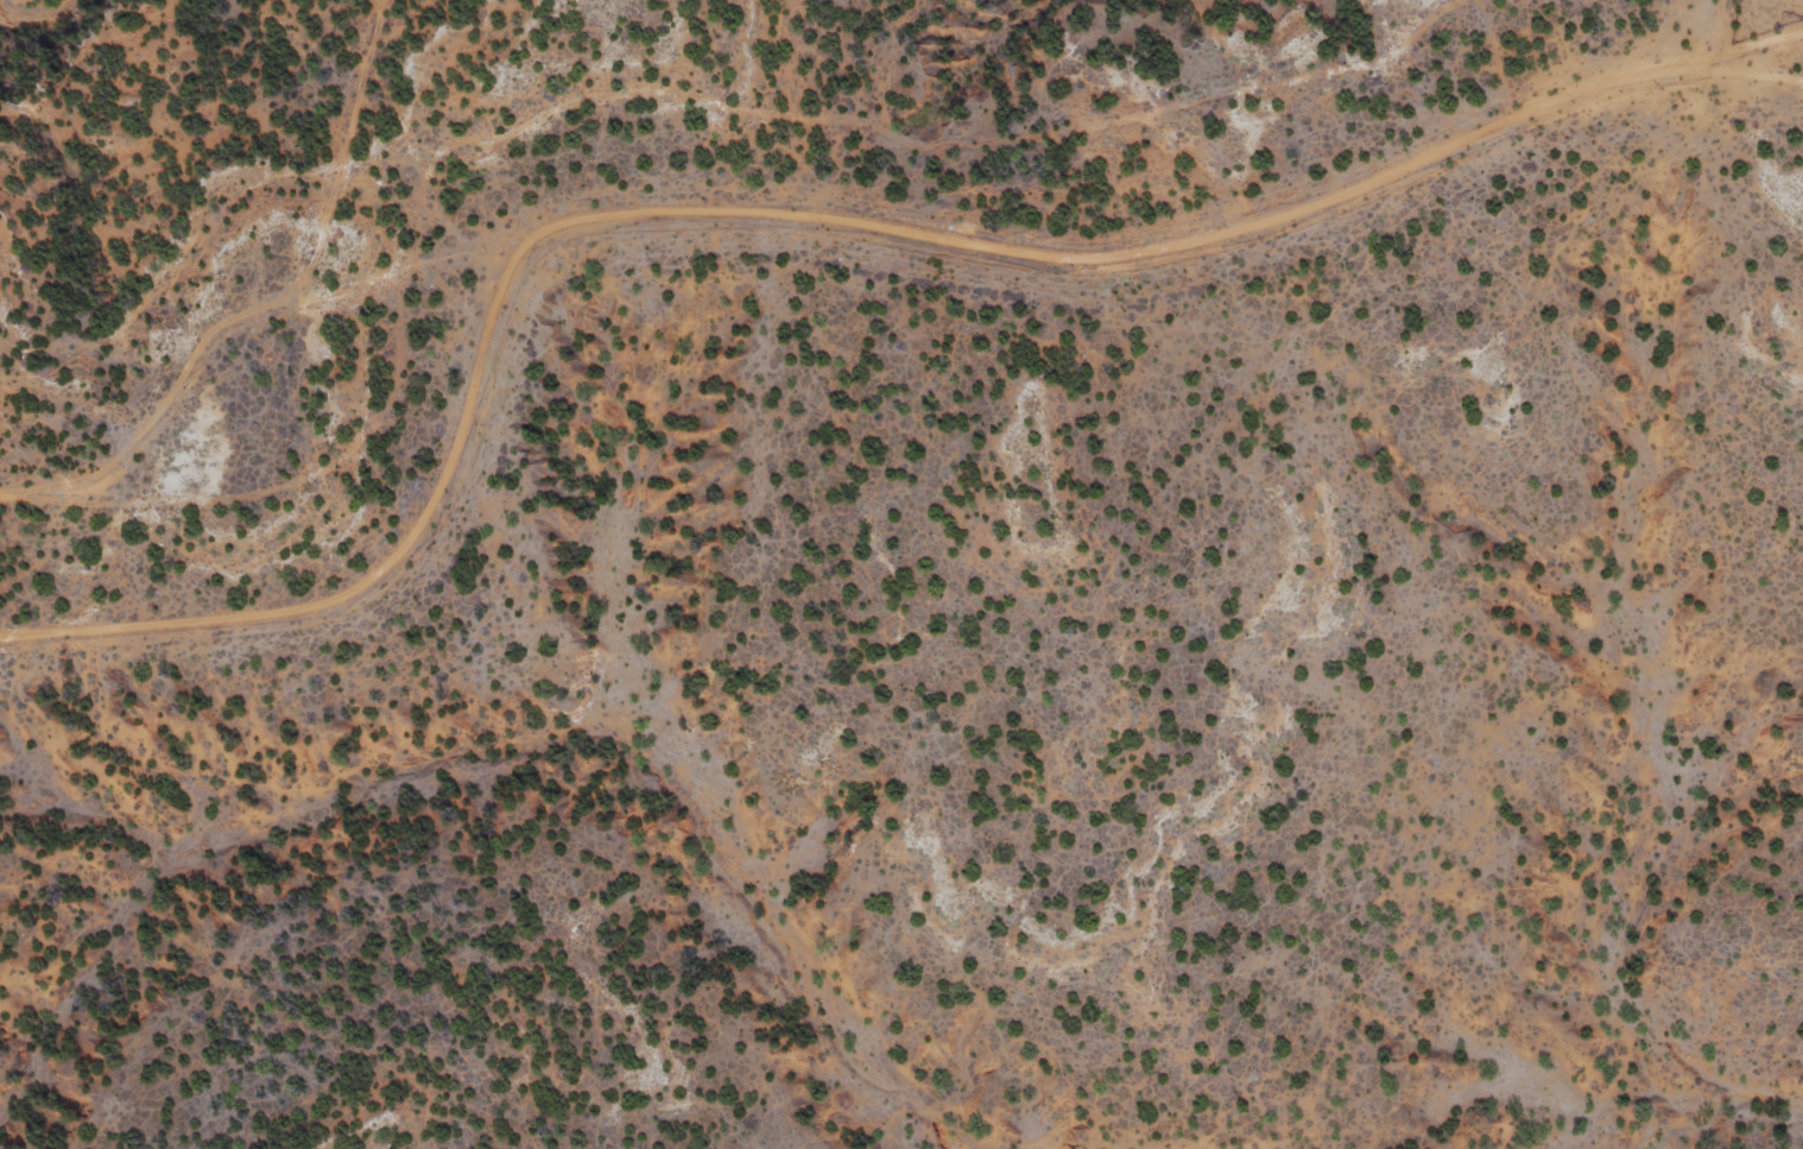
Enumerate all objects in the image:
road: (830, 221)

